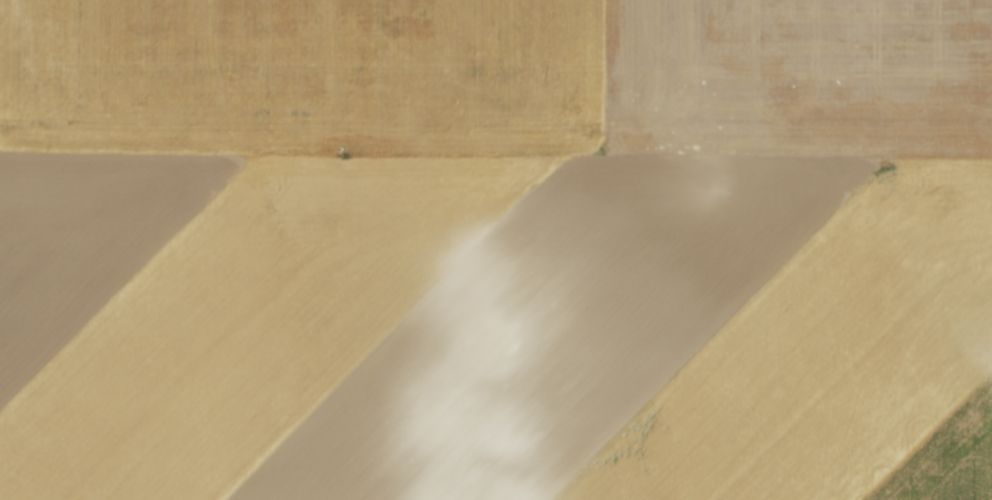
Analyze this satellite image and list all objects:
crop: (496, 250)

